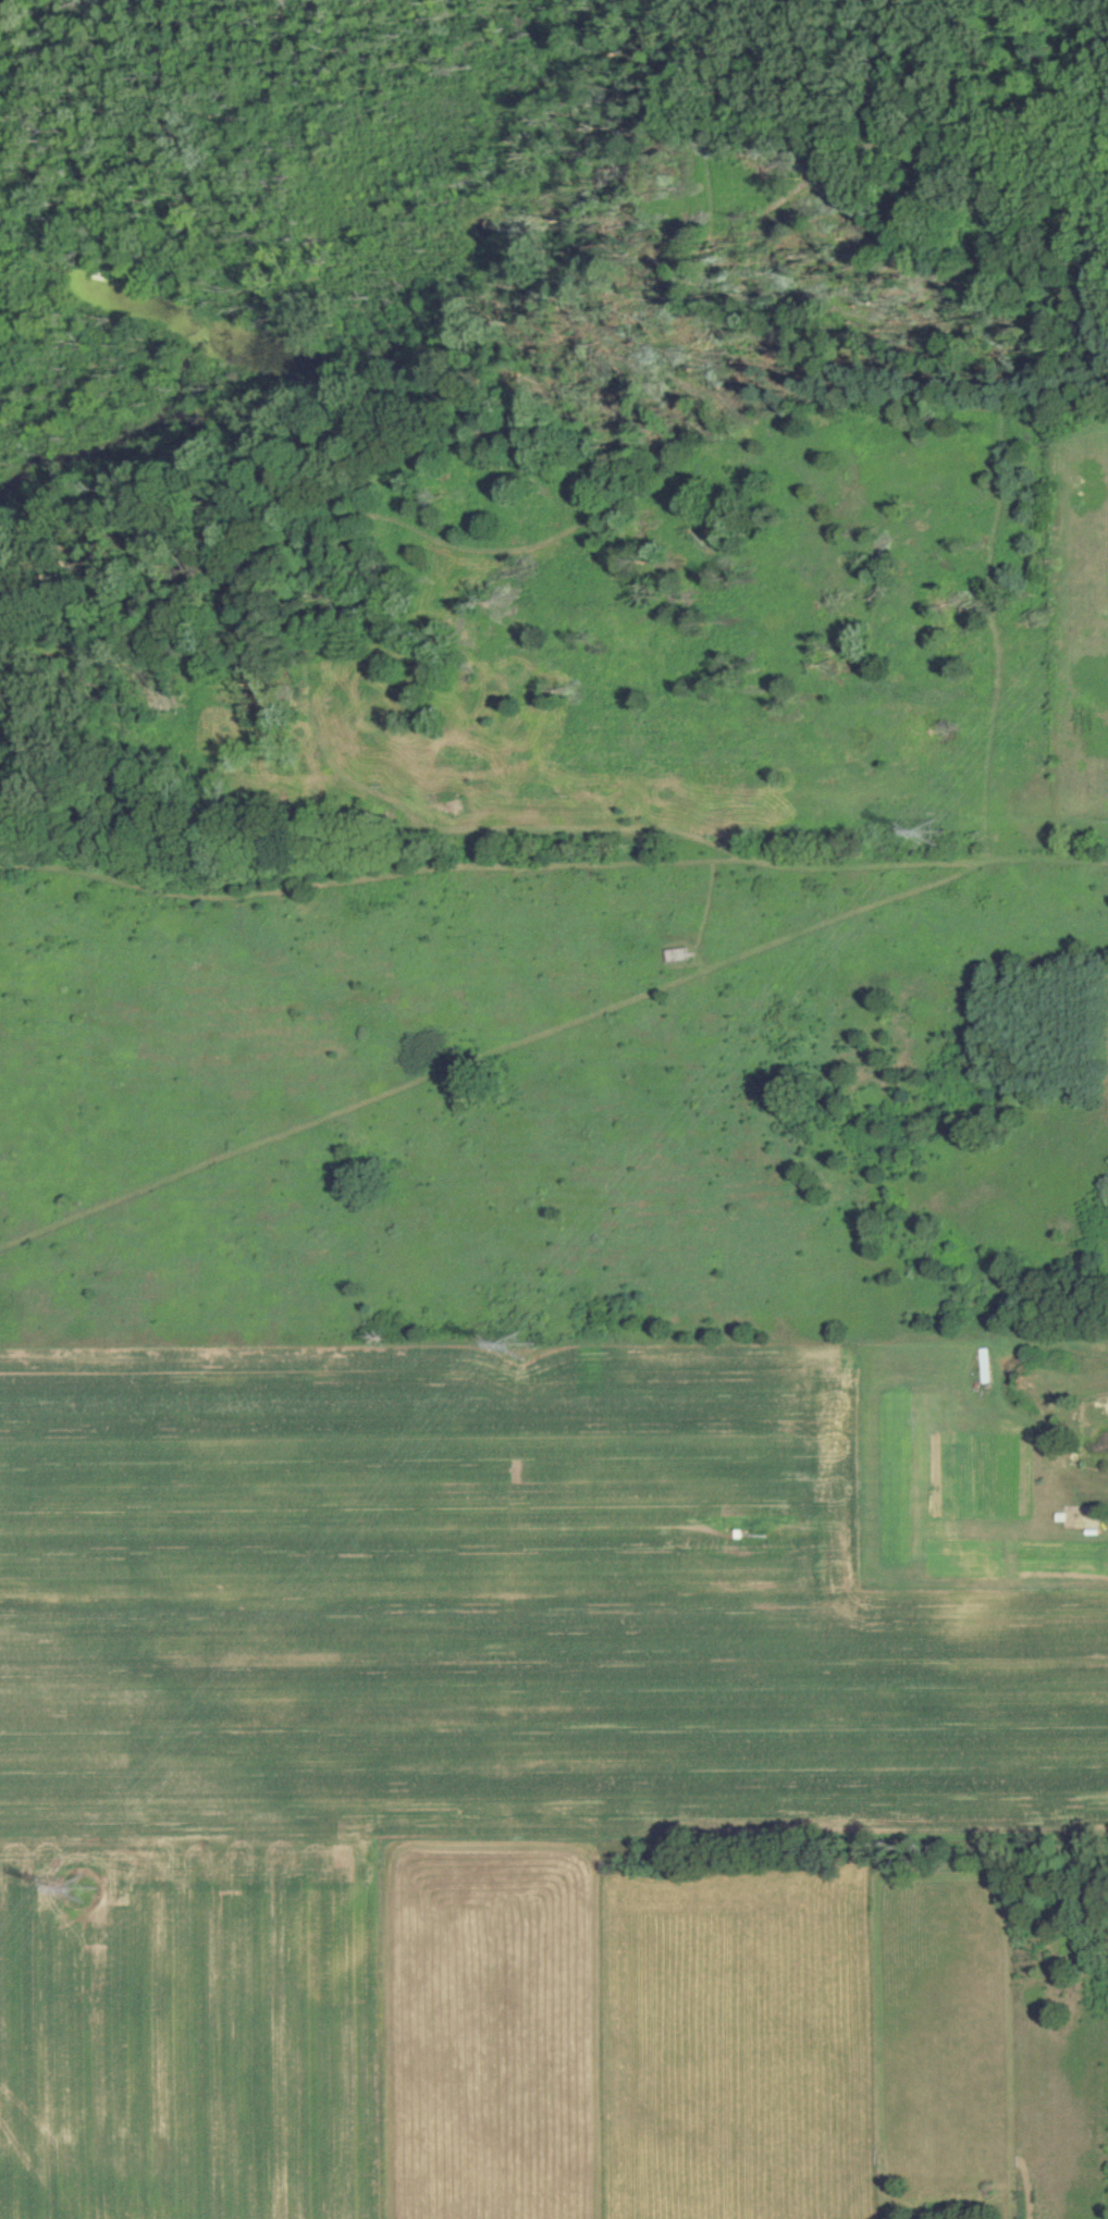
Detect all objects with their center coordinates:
road: (935, 135)
road: (350, 255)
road: (308, 344)
road: (525, 395)
road: (275, 428)
road: (993, 428)
road: (504, 551)
road: (884, 654)
road: (345, 835)
power tower: (934, 836)
road: (551, 855)
road: (492, 1049)
power tower: (520, 1347)
power tower: (83, 1890)

